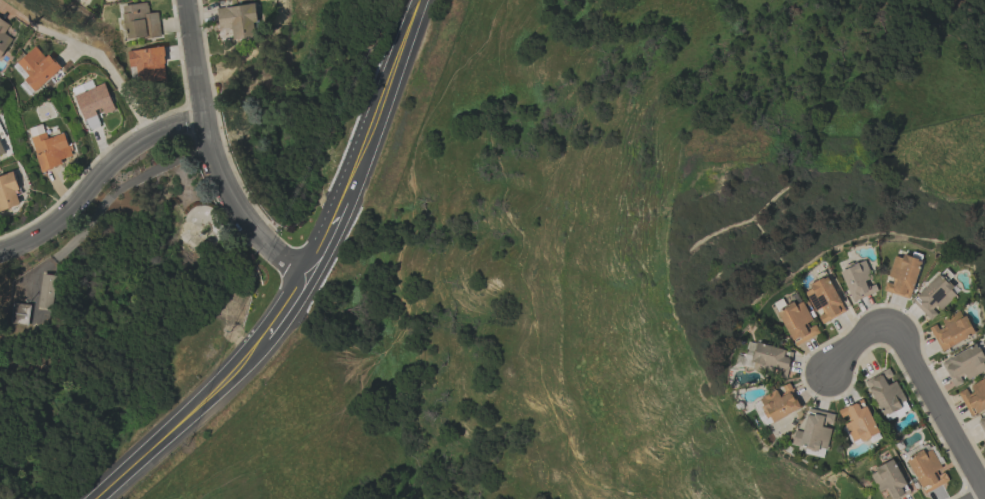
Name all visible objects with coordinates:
building: (86, 0)
building: (237, 20)
building: (140, 22)
building: (3, 36)
road: (105, 62)
building: (148, 63)
building: (36, 68)
building: (93, 105)
road: (369, 139)
building: (49, 148)
building: (1, 150)
road: (211, 156)
road: (98, 179)
building: (8, 191)
building: (902, 276)
building: (858, 280)
building: (46, 291)
building: (933, 297)
building: (824, 300)
road: (290, 307)
building: (19, 314)
building: (797, 323)
building: (951, 330)
road: (868, 332)
building: (769, 357)
building: (964, 365)
building: (886, 392)
building: (974, 397)
building: (776, 404)
road: (946, 419)
road: (186, 420)
building: (857, 421)
building: (982, 423)
building: (814, 430)
building: (927, 470)
building: (889, 480)
road: (984, 498)

